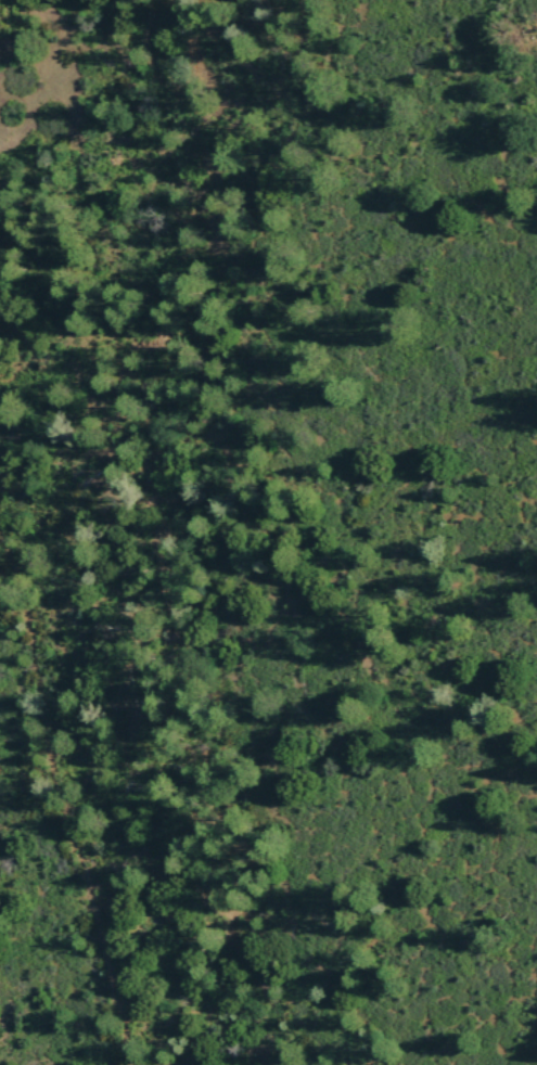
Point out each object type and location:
road: (61, 793)

